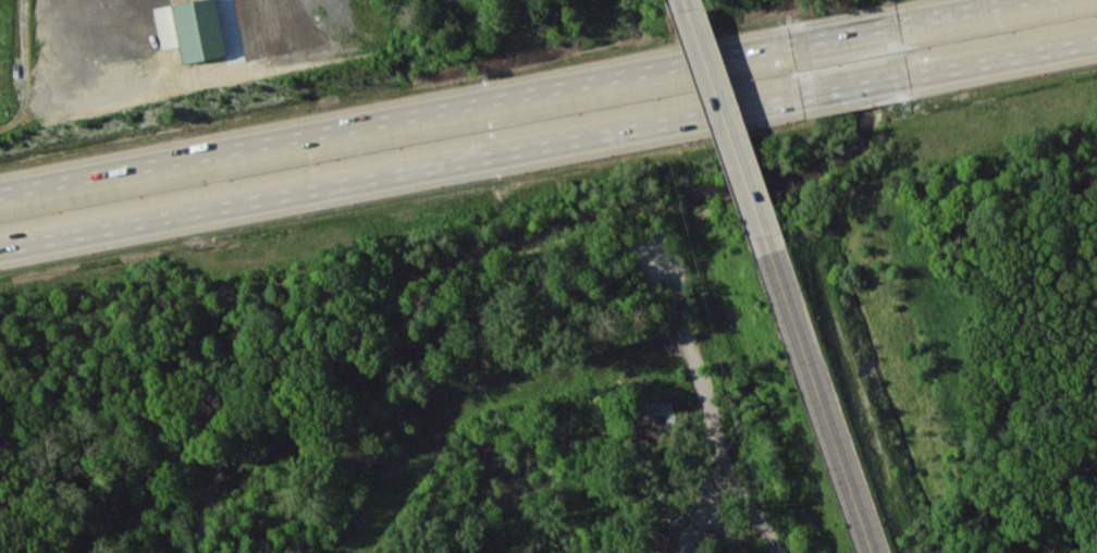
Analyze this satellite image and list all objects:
road: (509, 96)
road: (716, 113)
road: (547, 144)
road: (814, 389)
road: (720, 442)
road: (752, 506)

